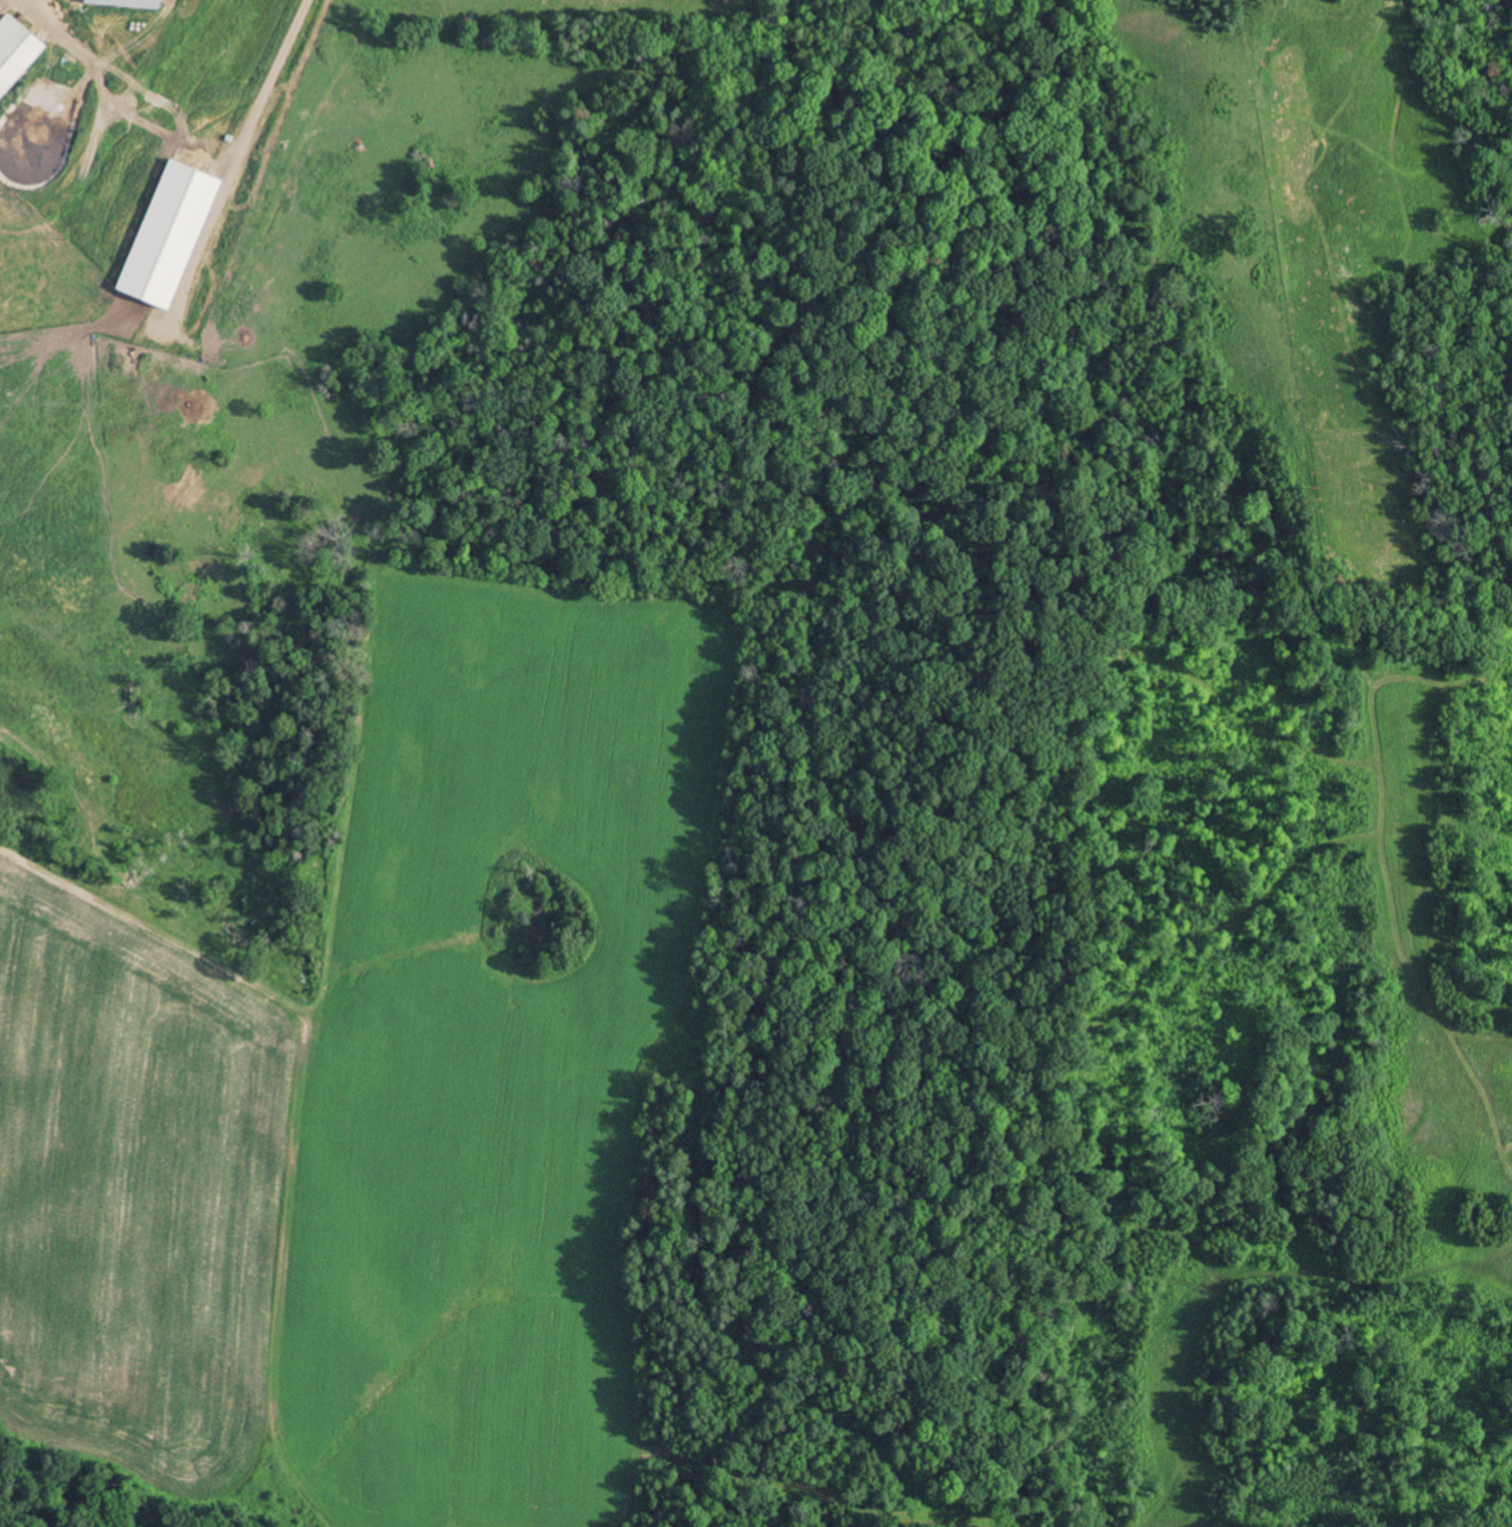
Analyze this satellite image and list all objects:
building: (121, 5)
building: (13, 54)

